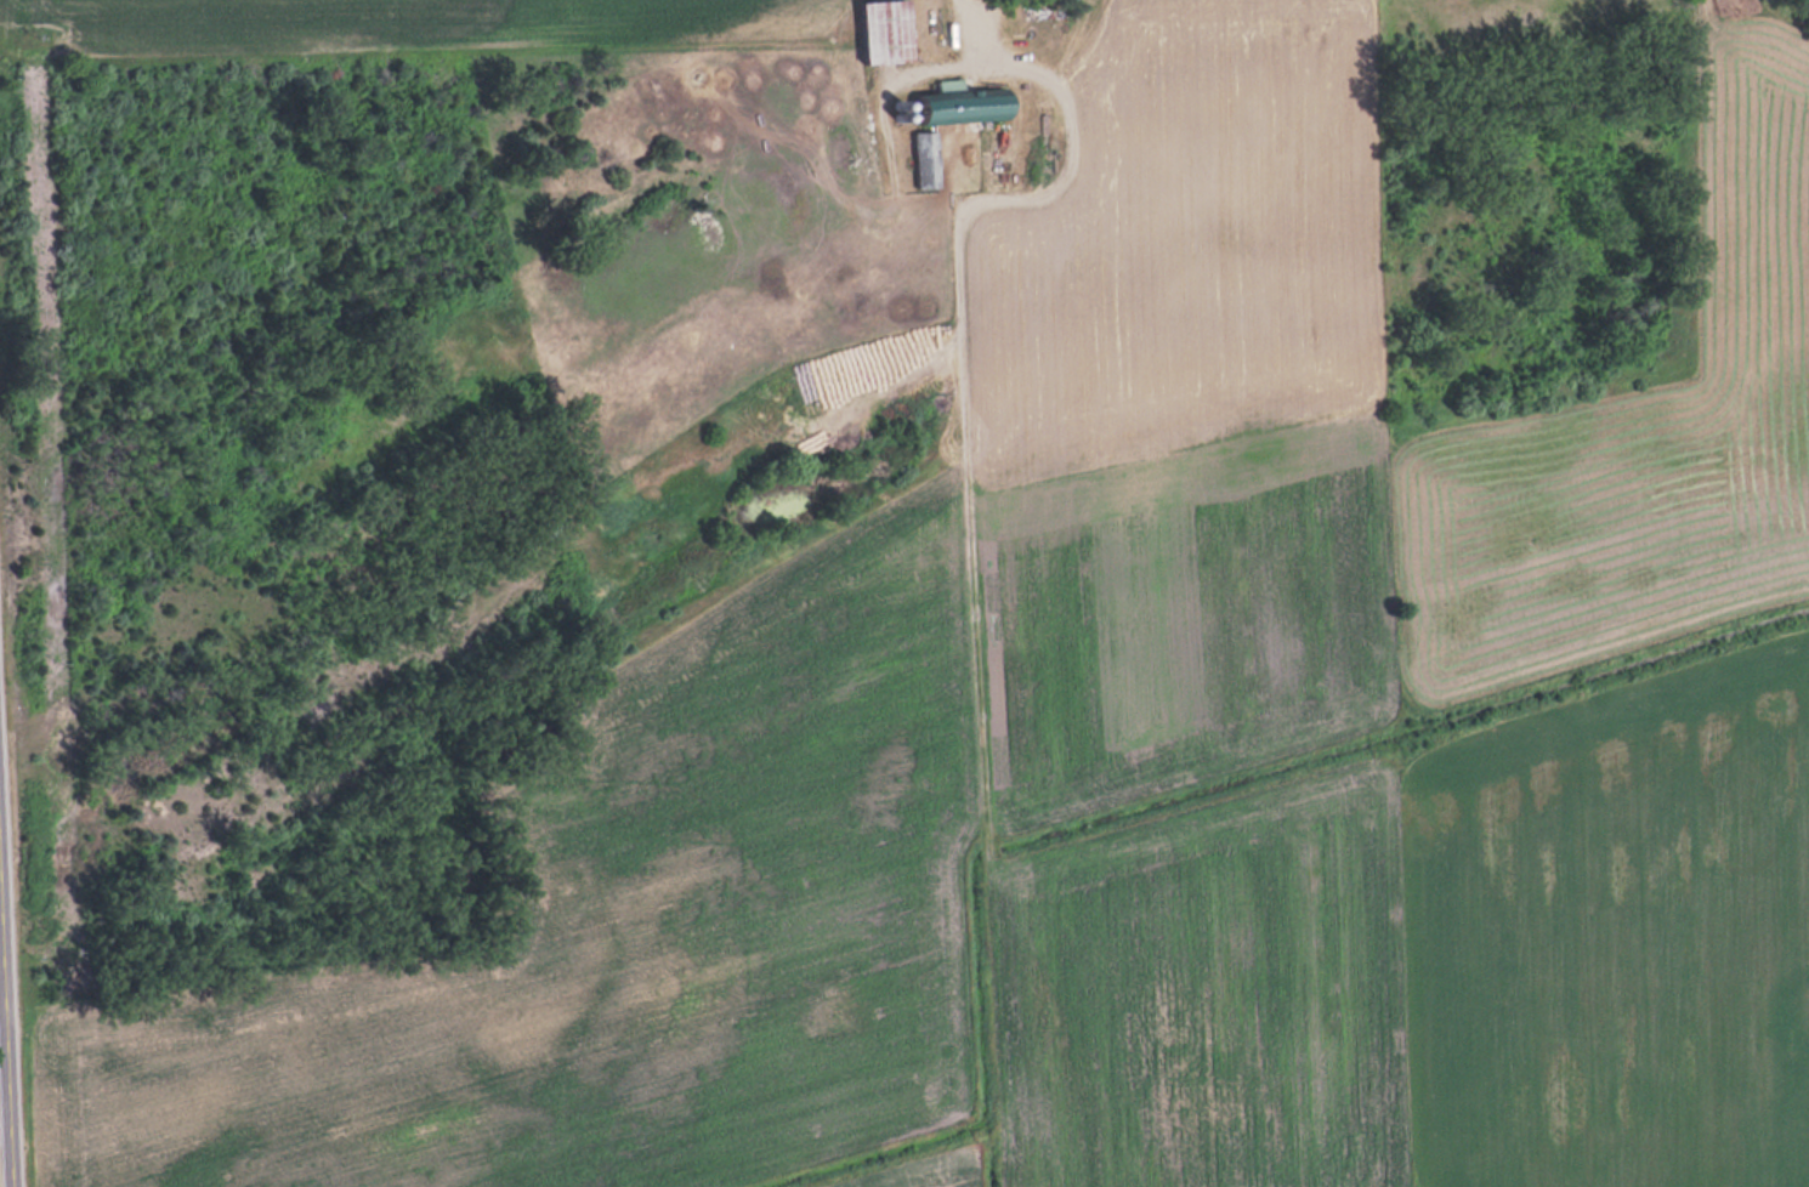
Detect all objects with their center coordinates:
building: (889, 30)
building: (971, 108)
building: (928, 159)
road: (5, 1051)

